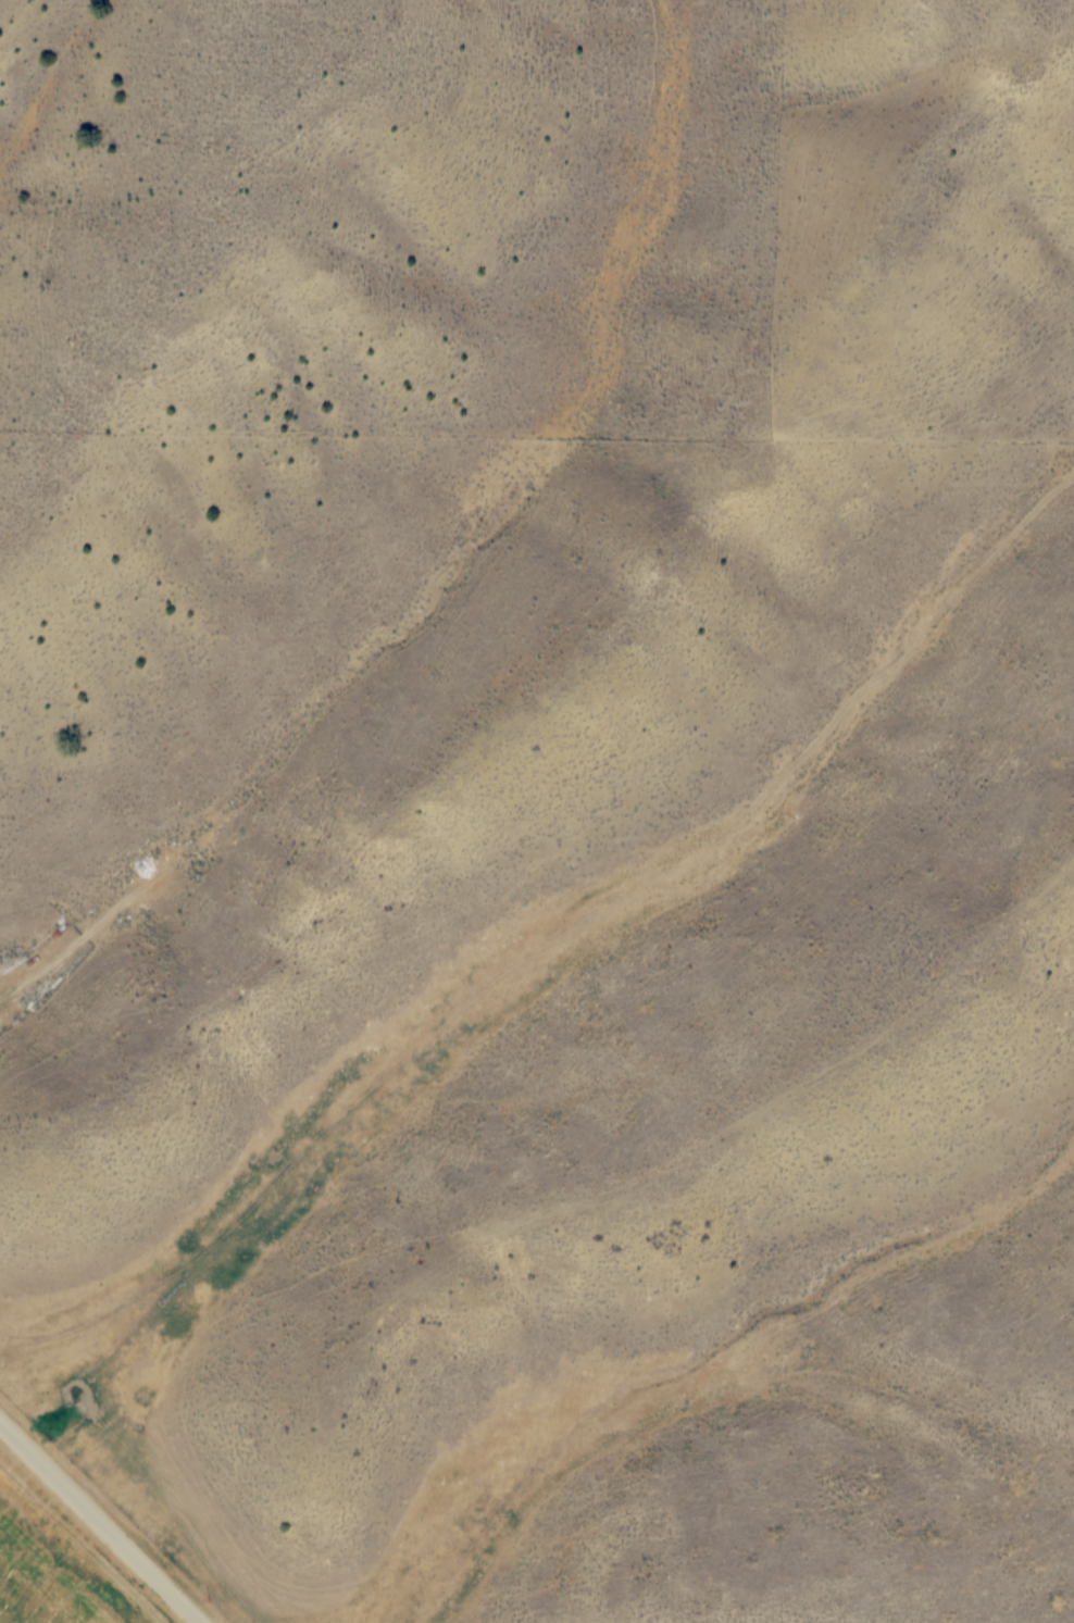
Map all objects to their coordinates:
road: (100, 1524)

